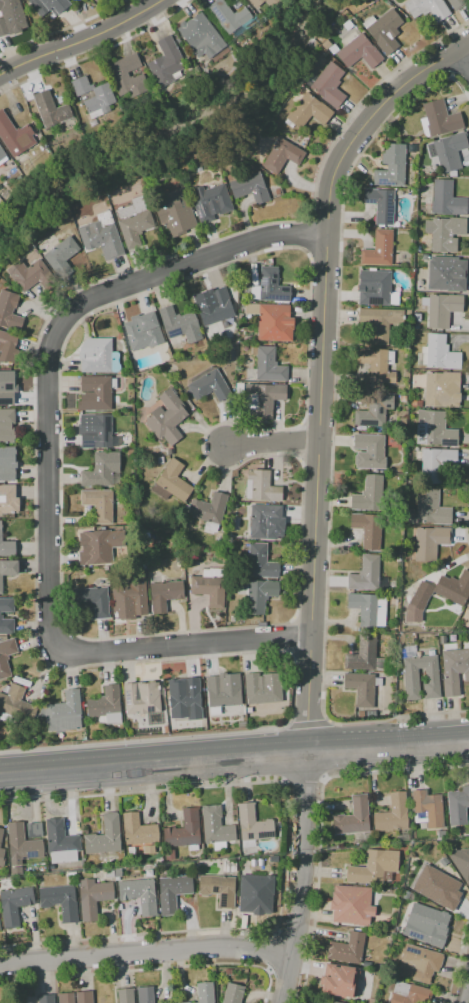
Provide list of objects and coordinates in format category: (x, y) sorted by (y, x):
building: (260, 3)
building: (456, 4)
building: (48, 6)
building: (427, 8)
building: (8, 13)
building: (227, 16)
building: (383, 30)
building: (200, 36)
road: (80, 40)
building: (359, 52)
road: (465, 57)
building: (165, 63)
building: (126, 77)
building: (328, 85)
building: (102, 93)
building: (50, 109)
building: (308, 111)
building: (438, 119)
building: (14, 136)
building: (448, 151)
building: (281, 155)
building: (5, 161)
building: (391, 167)
building: (249, 187)
building: (445, 199)
building: (210, 202)
building: (380, 205)
building: (176, 213)
building: (133, 222)
building: (444, 233)
building: (101, 236)
building: (378, 249)
building: (61, 257)
building: (426, 257)
building: (30, 275)
building: (443, 276)
building: (270, 287)
building: (373, 287)
building: (216, 308)
building: (441, 310)
building: (9, 311)
building: (271, 321)
building: (380, 323)
building: (179, 324)
building: (143, 332)
building: (7, 340)
building: (438, 353)
building: (95, 355)
building: (268, 365)
building: (377, 365)
road: (321, 366)
building: (208, 386)
building: (238, 388)
building: (442, 389)
building: (94, 393)
building: (5, 396)
building: (265, 398)
building: (373, 411)
building: (166, 417)
building: (6, 425)
building: (434, 429)
building: (94, 431)
road: (273, 445)
building: (369, 451)
building: (435, 463)
building: (7, 464)
road: (53, 469)
building: (100, 470)
building: (170, 482)
building: (261, 487)
building: (6, 493)
building: (367, 494)
building: (98, 505)
building: (431, 508)
building: (208, 511)
building: (265, 523)
building: (367, 530)
building: (430, 541)
building: (6, 546)
building: (98, 546)
building: (259, 562)
building: (7, 570)
building: (367, 576)
building: (209, 586)
building: (441, 591)
building: (132, 594)
building: (163, 594)
building: (259, 594)
building: (94, 600)
building: (6, 605)
building: (468, 607)
building: (368, 609)
building: (5, 625)
building: (6, 656)
building: (364, 656)
building: (454, 669)
building: (410, 674)
building: (262, 688)
building: (362, 688)
building: (223, 690)
building: (141, 698)
building: (186, 700)
building: (15, 706)
building: (105, 706)
building: (64, 712)
road: (397, 718)
road: (307, 723)
road: (144, 739)
road: (234, 754)
road: (303, 777)
road: (322, 778)
road: (285, 780)
building: (458, 805)
building: (427, 809)
building: (393, 814)
building: (353, 817)
road: (320, 819)
building: (252, 825)
building: (216, 828)
building: (32, 830)
building: (138, 830)
building: (184, 831)
building: (441, 834)
building: (1, 835)
building: (104, 836)
building: (402, 837)
building: (61, 842)
building: (21, 844)
road: (284, 853)
building: (167, 855)
building: (2, 857)
building: (445, 862)
building: (461, 862)
building: (229, 866)
building: (373, 867)
building: (117, 871)
building: (148, 873)
building: (109, 874)
road: (300, 876)
building: (72, 878)
building: (437, 887)
building: (218, 890)
building: (173, 892)
building: (256, 894)
building: (139, 895)
building: (405, 895)
building: (92, 897)
building: (60, 901)
building: (14, 905)
building: (350, 905)
building: (426, 925)
road: (292, 936)
building: (347, 949)
road: (271, 951)
road: (145, 952)
road: (458, 961)
building: (418, 963)
road: (149, 969)
building: (228, 972)
road: (286, 973)
building: (340, 980)
building: (205, 993)
building: (233, 993)
building: (408, 993)
road: (466, 994)
building: (125, 995)
building: (145, 995)
building: (84, 997)
building: (66, 998)
building: (39, 999)
building: (185, 1002)
building: (334, 1002)

